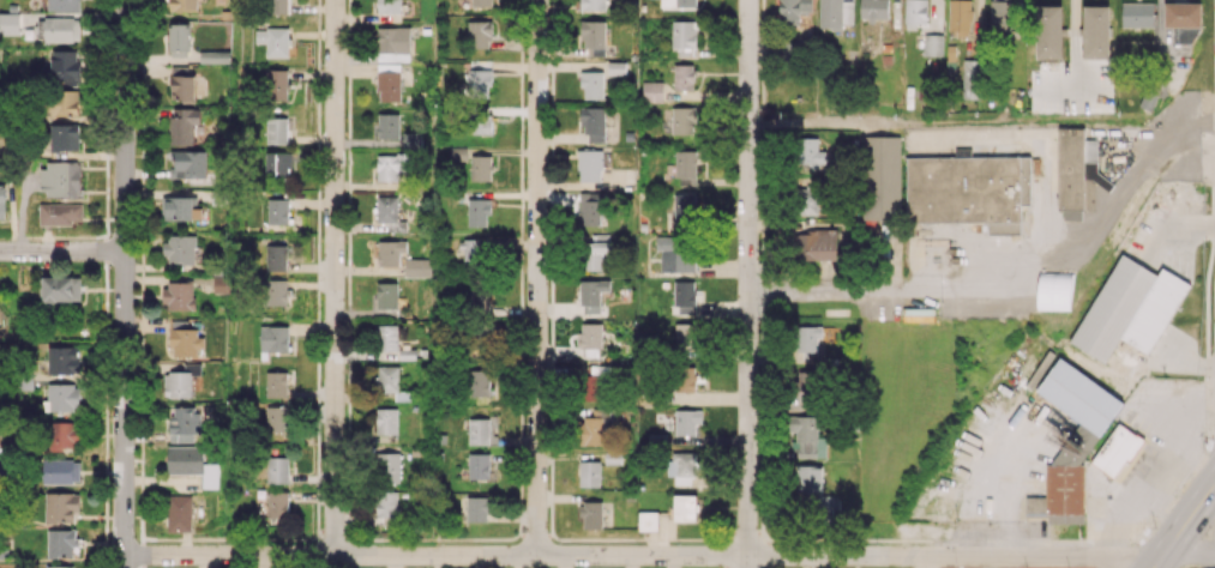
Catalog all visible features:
building: (481, 2)
building: (678, 4)
building: (64, 5)
building: (184, 5)
building: (593, 5)
building: (277, 6)
building: (389, 6)
building: (873, 10)
building: (792, 11)
building: (915, 12)
building: (834, 13)
building: (1137, 14)
building: (1000, 16)
building: (960, 17)
building: (1181, 20)
building: (8, 23)
building: (60, 28)
building: (1048, 31)
building: (1095, 31)
building: (479, 34)
building: (593, 36)
building: (684, 37)
road: (1071, 37)
building: (179, 38)
building: (393, 40)
building: (272, 41)
building: (933, 44)
building: (211, 56)
building: (65, 66)
building: (387, 66)
building: (615, 67)
building: (684, 77)
building: (970, 79)
building: (181, 81)
building: (276, 84)
building: (479, 84)
building: (591, 84)
building: (389, 85)
building: (651, 91)
building: (65, 102)
building: (682, 119)
building: (479, 122)
building: (593, 122)
building: (182, 125)
building: (387, 125)
building: (276, 129)
building: (64, 137)
building: (411, 139)
building: (457, 153)
building: (811, 155)
building: (188, 163)
building: (685, 163)
building: (278, 164)
building: (391, 165)
building: (589, 165)
building: (480, 167)
building: (1077, 173)
building: (882, 177)
building: (60, 179)
building: (968, 191)
building: (807, 200)
building: (1, 201)
building: (180, 209)
building: (590, 209)
building: (682, 209)
building: (277, 211)
building: (477, 211)
building: (389, 212)
building: (60, 213)
building: (817, 244)
building: (179, 248)
road: (62, 250)
building: (595, 250)
building: (390, 252)
building: (474, 252)
building: (674, 253)
building: (276, 256)
building: (417, 267)
road: (748, 277)
road: (333, 278)
road: (537, 278)
road: (124, 284)
building: (222, 284)
building: (61, 289)
building: (1054, 290)
building: (276, 291)
road: (805, 294)
building: (179, 295)
building: (386, 295)
building: (593, 296)
building: (684, 296)
building: (475, 300)
building: (1129, 308)
building: (385, 337)
building: (686, 337)
building: (590, 338)
building: (272, 339)
building: (184, 340)
building: (808, 345)
building: (62, 359)
building: (685, 379)
building: (389, 380)
building: (180, 381)
building: (479, 382)
building: (593, 382)
building: (275, 383)
building: (804, 387)
building: (61, 397)
building: (1079, 401)
building: (276, 418)
building: (385, 421)
building: (686, 421)
building: (184, 423)
building: (590, 430)
building: (481, 431)
building: (61, 436)
building: (806, 436)
building: (1115, 451)
building: (612, 457)
road: (1197, 459)
building: (192, 464)
building: (477, 465)
building: (387, 467)
building: (681, 467)
building: (277, 469)
building: (61, 471)
building: (589, 473)
road: (1155, 479)
building: (1064, 488)
road: (1009, 490)
building: (1034, 504)
building: (61, 506)
building: (277, 507)
building: (386, 507)
building: (685, 507)
road: (1165, 507)
building: (476, 508)
building: (179, 513)
building: (591, 514)
building: (648, 520)
road: (1184, 521)
road: (981, 555)
road: (434, 556)
road: (747, 561)
building: (60, 567)

